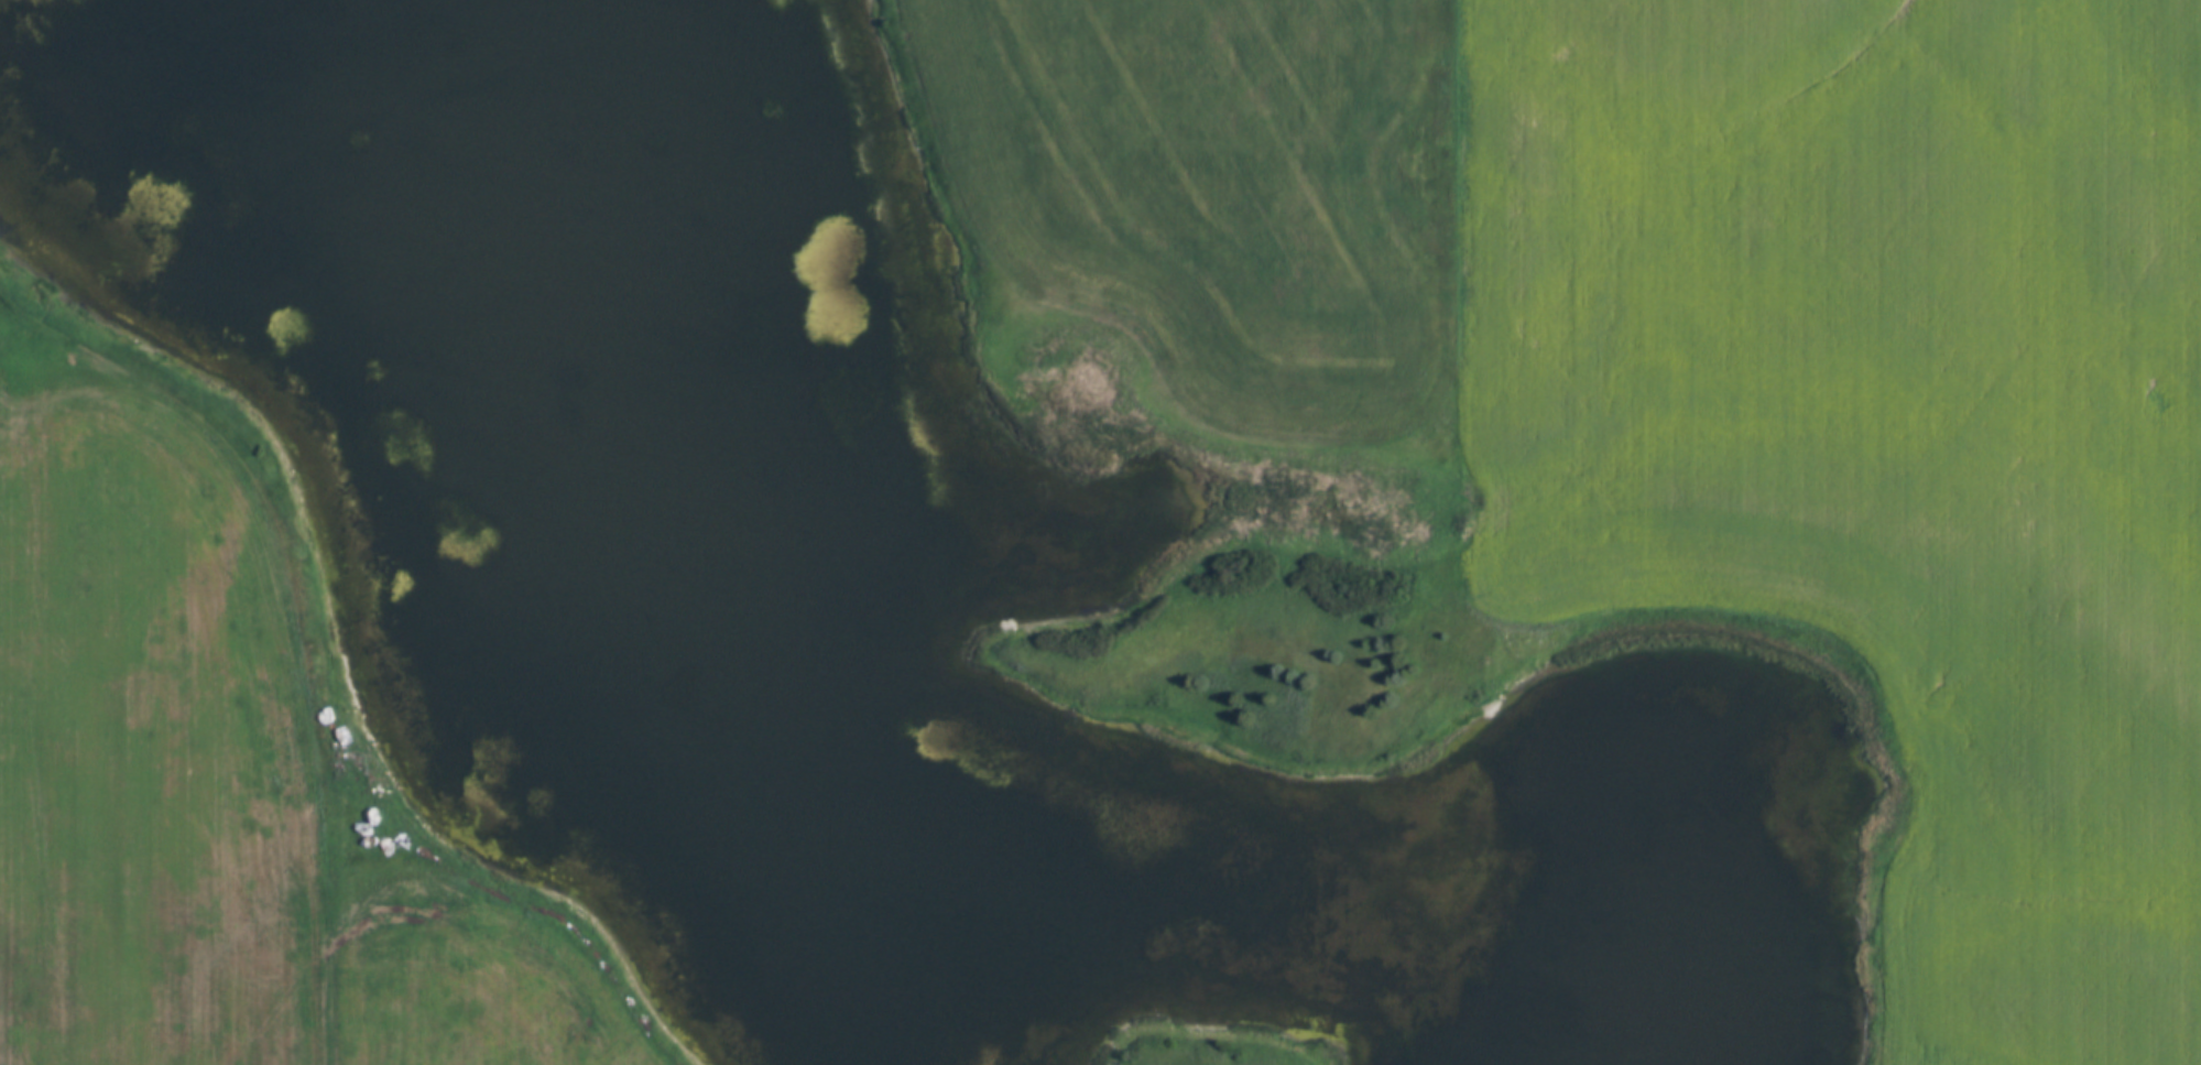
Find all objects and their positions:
road: (288, 621)

